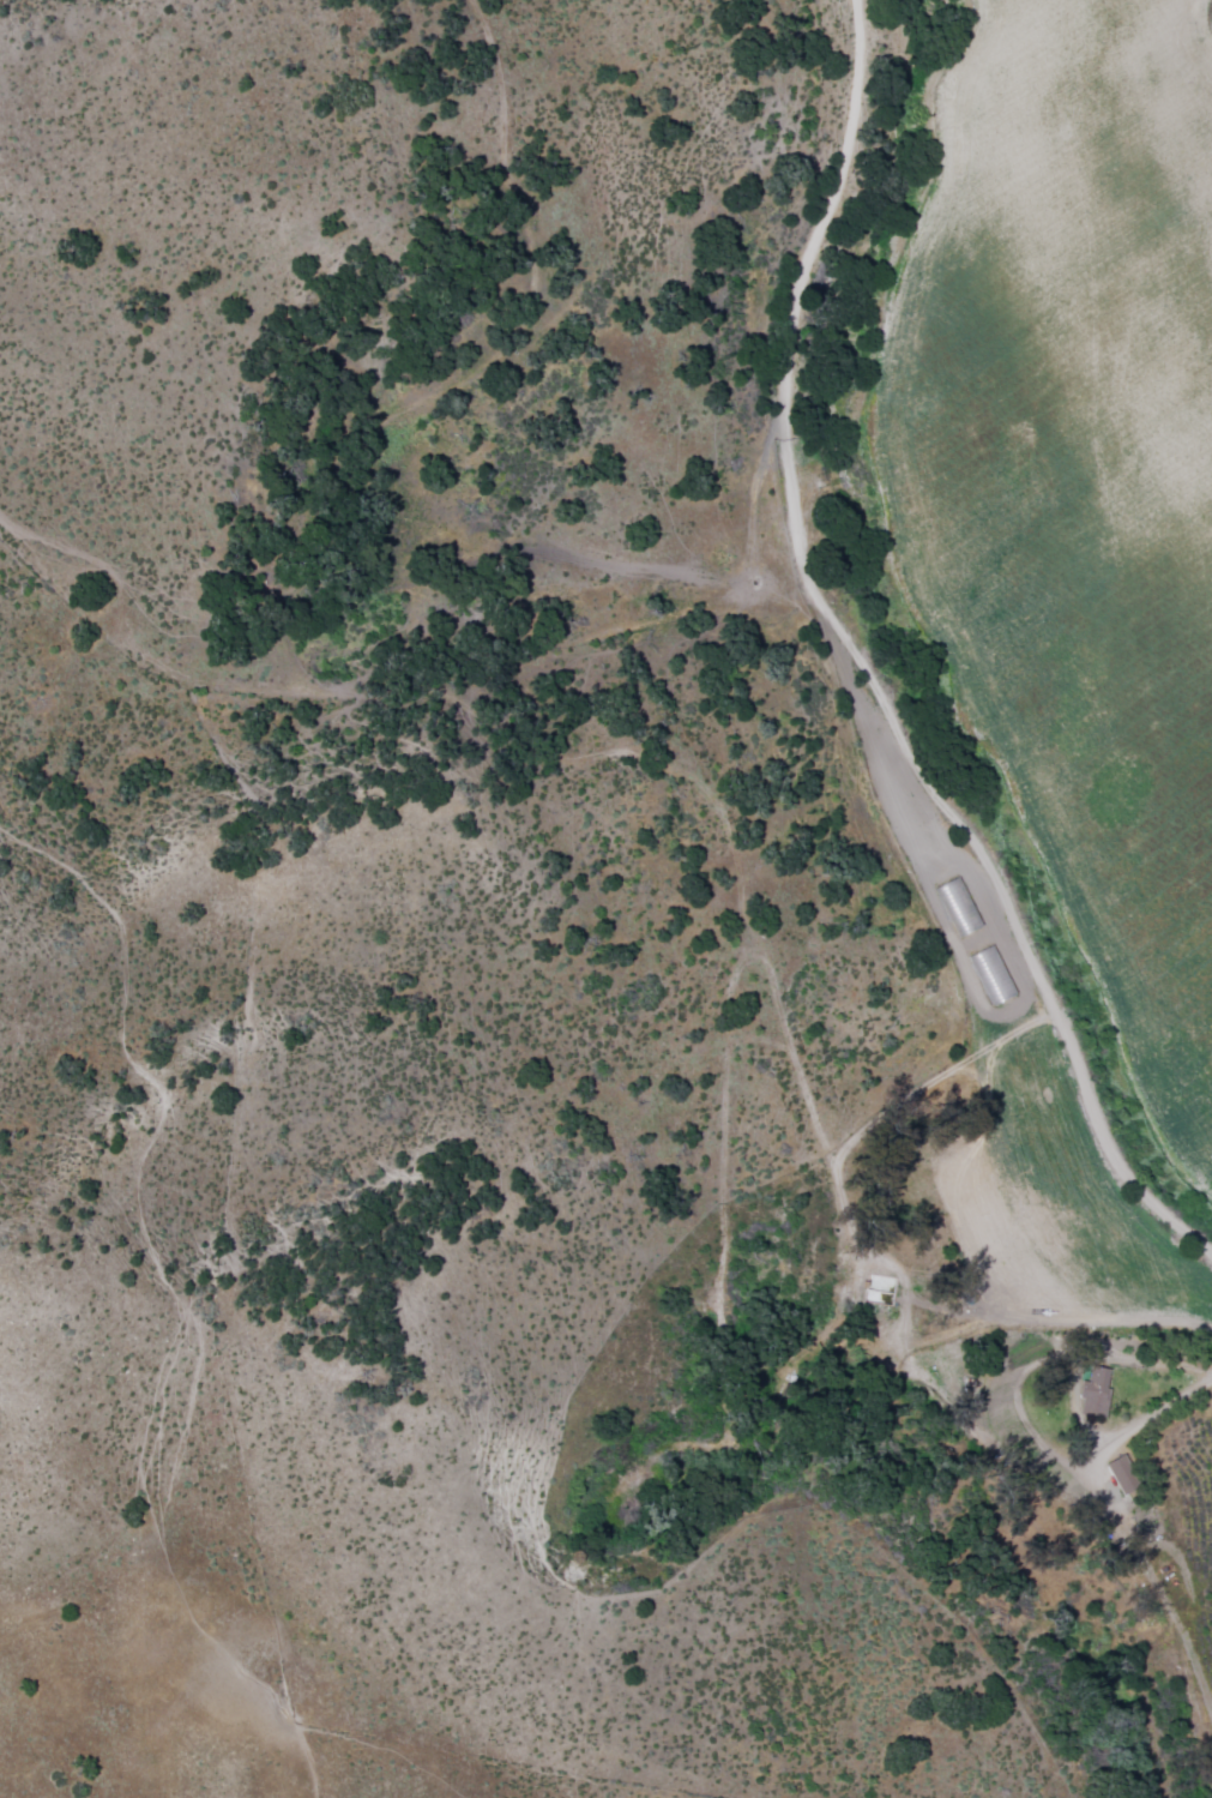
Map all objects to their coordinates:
crop: (1083, 661)
road: (864, 666)
building: (953, 906)
building: (987, 974)
building: (1091, 1394)
building: (1117, 1474)

